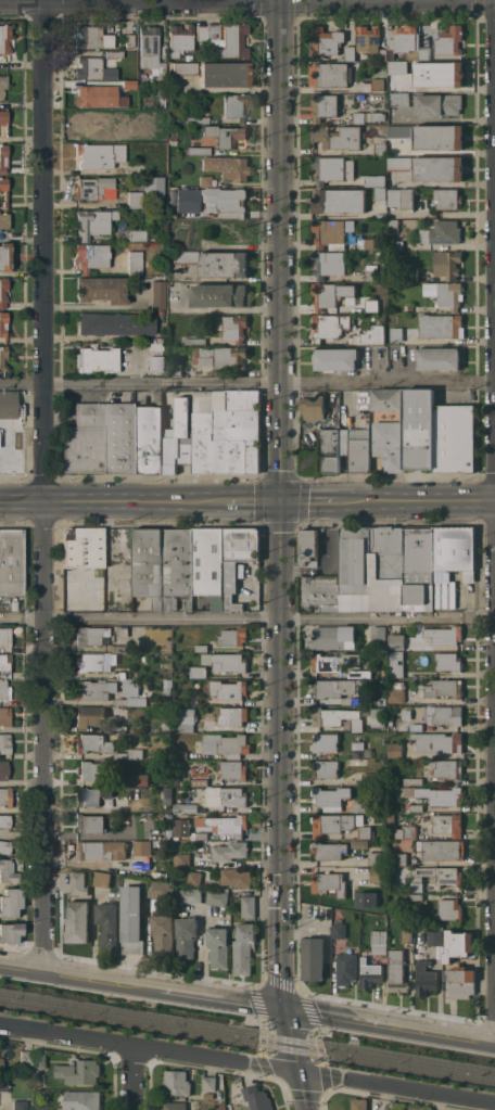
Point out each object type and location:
road: (367, 1)
road: (247, 3)
building: (213, 31)
building: (201, 33)
building: (4, 38)
building: (92, 38)
building: (368, 38)
building: (179, 39)
building: (129, 40)
building: (327, 40)
building: (404, 40)
building: (449, 40)
building: (232, 41)
building: (149, 48)
building: (348, 53)
building: (423, 53)
building: (383, 54)
building: (113, 55)
building: (399, 68)
building: (92, 69)
building: (185, 69)
building: (157, 74)
building: (330, 74)
building: (439, 74)
building: (224, 75)
building: (378, 85)
building: (2, 86)
building: (129, 87)
building: (97, 98)
building: (161, 98)
building: (399, 99)
building: (437, 105)
building: (234, 106)
building: (325, 106)
building: (368, 116)
building: (3, 118)
building: (196, 120)
building: (93, 122)
building: (151, 125)
building: (399, 131)
building: (225, 135)
building: (338, 137)
building: (439, 137)
building: (173, 141)
building: (380, 149)
building: (198, 151)
building: (99, 155)
building: (3, 158)
building: (399, 163)
building: (227, 167)
building: (332, 168)
building: (439, 168)
building: (137, 169)
building: (375, 180)
building: (204, 181)
building: (153, 187)
building: (94, 189)
building: (3, 190)
building: (381, 192)
building: (208, 195)
building: (402, 197)
building: (447, 199)
building: (232, 200)
building: (339, 200)
building: (136, 201)
building: (187, 201)
building: (4, 220)
building: (93, 222)
building: (393, 225)
building: (332, 232)
building: (442, 232)
building: (137, 235)
building: (376, 243)
building: (396, 244)
road: (280, 250)
building: (4, 257)
building: (90, 257)
building: (183, 257)
building: (130, 261)
building: (224, 264)
building: (329, 264)
building: (447, 264)
building: (371, 271)
building: (101, 290)
building: (2, 291)
building: (445, 293)
building: (157, 295)
building: (220, 295)
building: (323, 295)
building: (371, 305)
building: (161, 312)
building: (116, 323)
building: (2, 324)
building: (328, 326)
building: (441, 326)
building: (232, 327)
building: (371, 335)
building: (395, 337)
building: (156, 341)
building: (195, 341)
building: (155, 347)
building: (2, 357)
building: (221, 357)
building: (335, 358)
building: (439, 358)
building: (97, 360)
building: (155, 363)
building: (175, 370)
road: (247, 384)
building: (386, 401)
building: (10, 405)
building: (313, 407)
building: (382, 416)
building: (227, 432)
building: (407, 434)
building: (454, 437)
building: (100, 438)
building: (178, 439)
building: (148, 441)
building: (344, 442)
building: (359, 449)
building: (322, 454)
road: (42, 485)
road: (251, 500)
traffic signals: (281, 500)
road: (316, 500)
road: (422, 500)
road: (111, 501)
road: (109, 547)
building: (309, 547)
building: (455, 550)
building: (370, 557)
building: (11, 562)
building: (418, 563)
building: (149, 564)
building: (210, 564)
building: (85, 566)
building: (178, 567)
building: (230, 587)
building: (319, 591)
building: (442, 594)
road: (247, 618)
building: (444, 635)
building: (99, 636)
building: (233, 636)
building: (334, 636)
building: (4, 637)
building: (379, 637)
building: (397, 641)
building: (125, 648)
building: (202, 648)
building: (226, 661)
building: (449, 661)
building: (96, 662)
building: (326, 662)
building: (4, 663)
building: (396, 664)
building: (123, 674)
building: (358, 674)
building: (167, 686)
building: (328, 688)
building: (442, 688)
building: (4, 690)
building: (94, 690)
building: (230, 691)
building: (397, 692)
building: (361, 700)
building: (382, 700)
building: (130, 701)
building: (90, 715)
building: (187, 715)
building: (445, 715)
building: (4, 716)
building: (232, 716)
building: (337, 717)
building: (378, 717)
building: (183, 727)
building: (417, 727)
building: (119, 728)
building: (169, 728)
building: (437, 741)
building: (325, 742)
building: (4, 743)
building: (91, 743)
building: (226, 744)
building: (358, 744)
building: (395, 750)
building: (136, 753)
road: (279, 753)
building: (357, 753)
building: (120, 755)
building: (181, 755)
building: (326, 768)
building: (446, 768)
building: (92, 769)
building: (234, 769)
building: (2, 770)
building: (370, 777)
building: (138, 779)
building: (414, 780)
building: (192, 782)
building: (181, 794)
building: (91, 795)
building: (227, 796)
building: (447, 796)
building: (5, 798)
building: (330, 798)
building: (359, 806)
building: (187, 807)
building: (417, 807)
building: (4, 820)
building: (334, 822)
building: (90, 824)
building: (226, 824)
building: (448, 824)
building: (181, 827)
building: (365, 831)
building: (406, 832)
building: (201, 835)
building: (359, 843)
building: (4, 847)
building: (142, 847)
building: (442, 849)
building: (100, 850)
building: (329, 850)
building: (230, 851)
building: (375, 858)
building: (398, 858)
building: (183, 859)
building: (9, 870)
building: (377, 875)
building: (443, 875)
building: (190, 877)
building: (236, 877)
building: (102, 879)
building: (329, 882)
building: (78, 883)
building: (417, 886)
building: (161, 890)
building: (191, 895)
building: (417, 896)
building: (217, 897)
building: (367, 900)
building: (10, 903)
building: (247, 905)
building: (449, 908)
building: (131, 919)
building: (77, 921)
building: (107, 923)
building: (340, 929)
building: (163, 931)
building: (10, 933)
building: (407, 935)
building: (187, 936)
building: (434, 937)
building: (379, 942)
building: (457, 944)
building: (219, 946)
building: (243, 948)
building: (326, 949)
building: (313, 958)
road: (21, 968)
building: (346, 969)
building: (397, 971)
building: (370, 973)
building: (426, 978)
building: (460, 982)
road: (162, 988)
traffic signals: (283, 1007)
road: (389, 1023)
railway: (246, 1032)
road: (290, 1038)
railway: (247, 1042)
road: (149, 1047)
building: (25, 1058)
building: (40, 1060)
building: (1, 1063)
traffic signals: (297, 1071)
building: (80, 1072)
road: (132, 1077)
building: (177, 1082)
building: (208, 1083)
building: (3, 1086)
road: (396, 1087)
road: (302, 1090)
building: (257, 1098)
building: (82, 1099)
building: (359, 1103)
building: (18, 1105)
building: (175, 1105)
building: (397, 1107)
building: (46, 1109)

